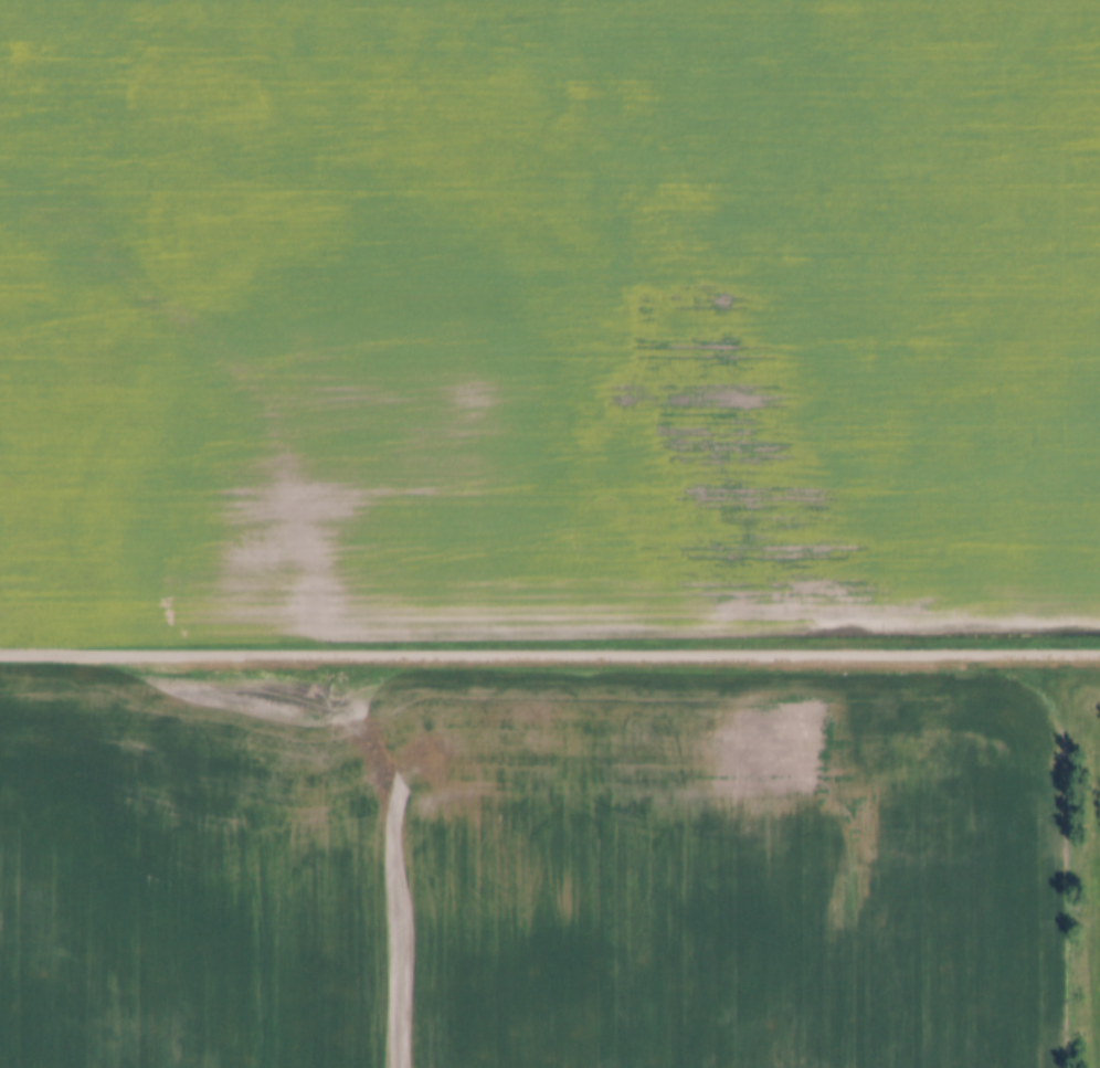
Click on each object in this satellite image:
road: (549, 658)

